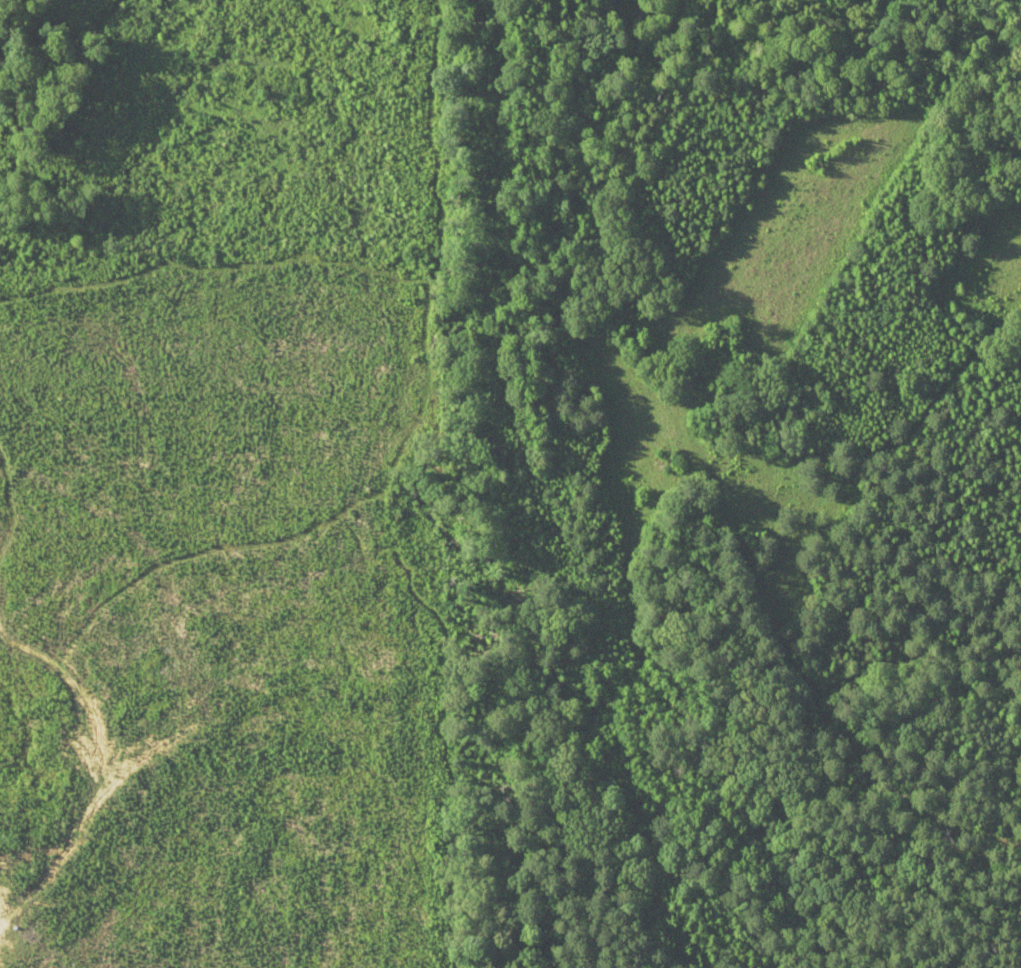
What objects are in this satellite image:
road: (810, 717)

